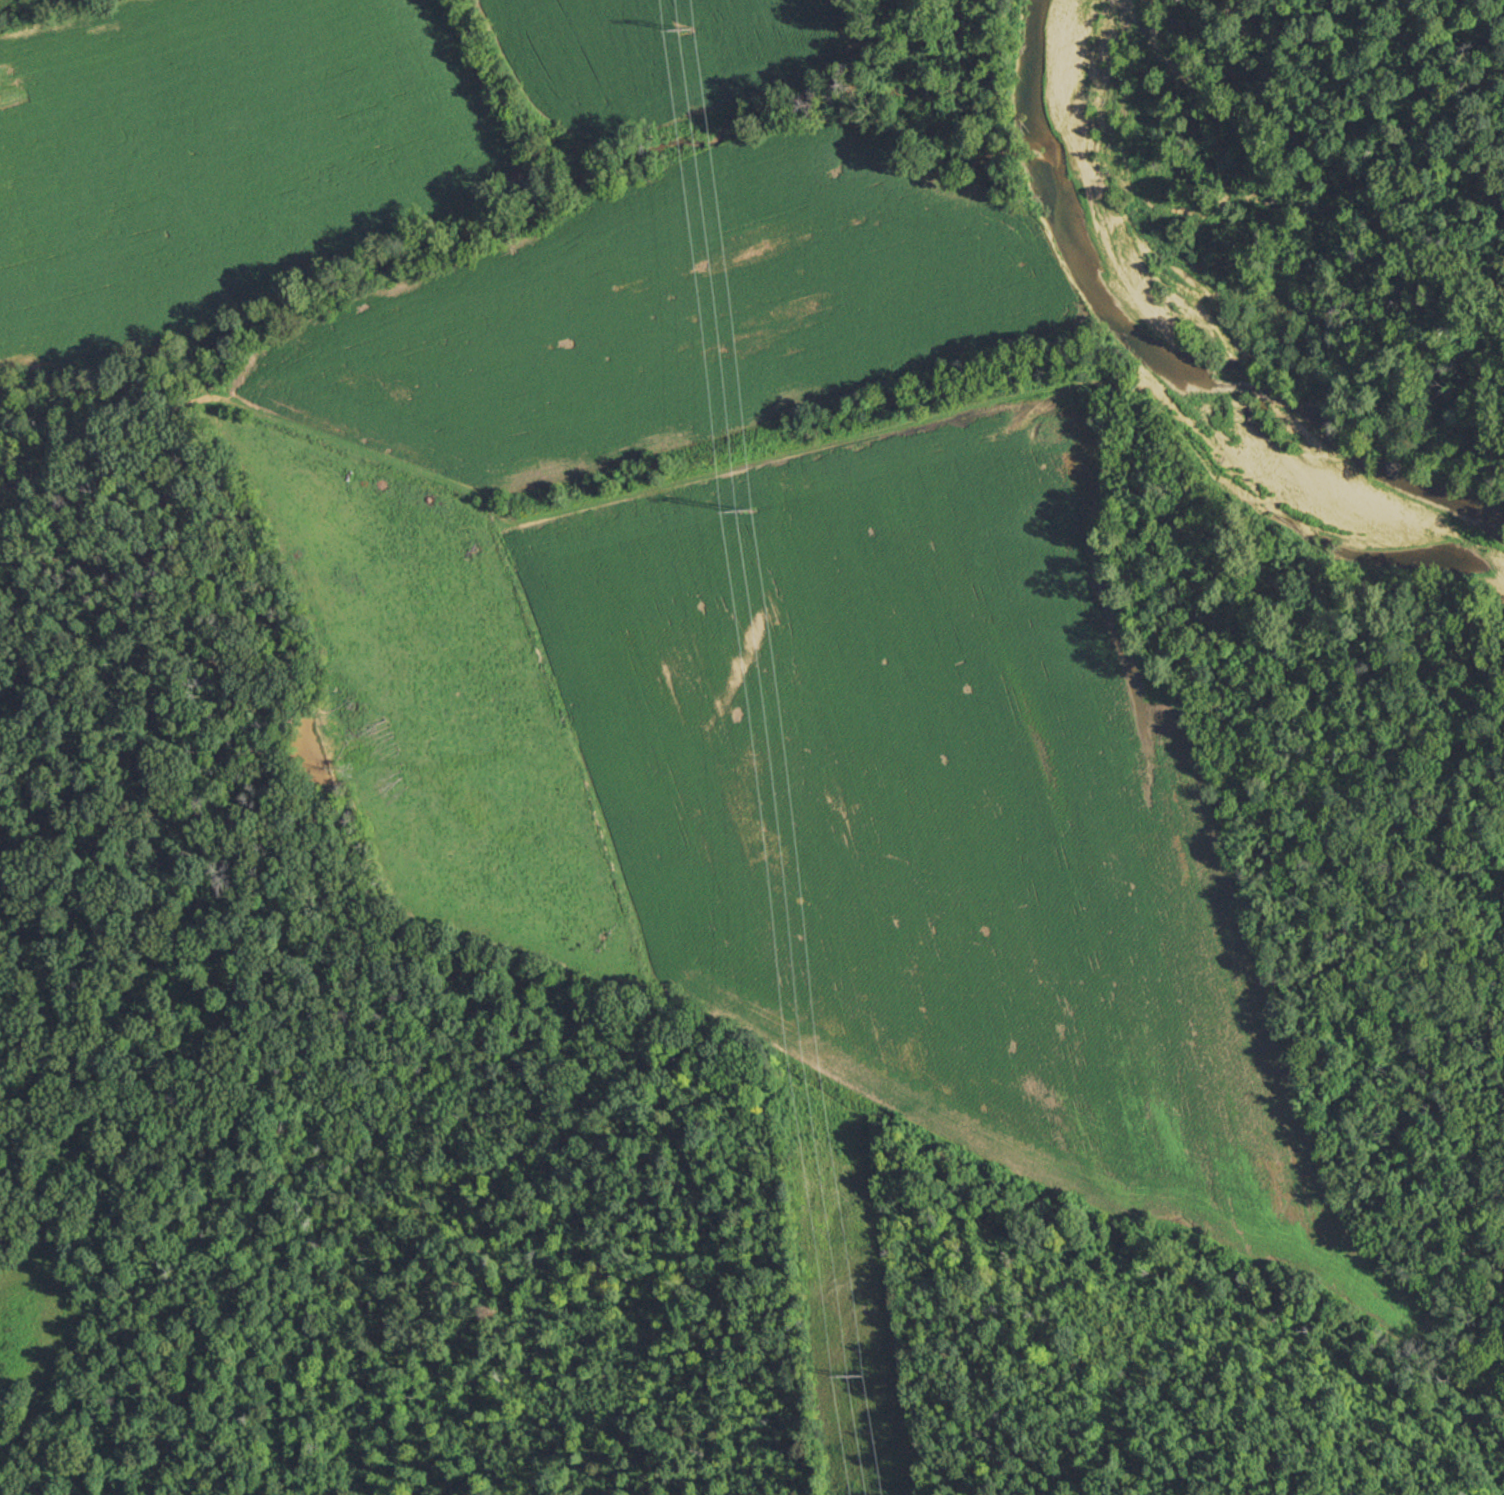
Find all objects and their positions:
power tower: (685, 27)
river: (1173, 363)
power tower: (745, 509)
power tower: (858, 1378)

